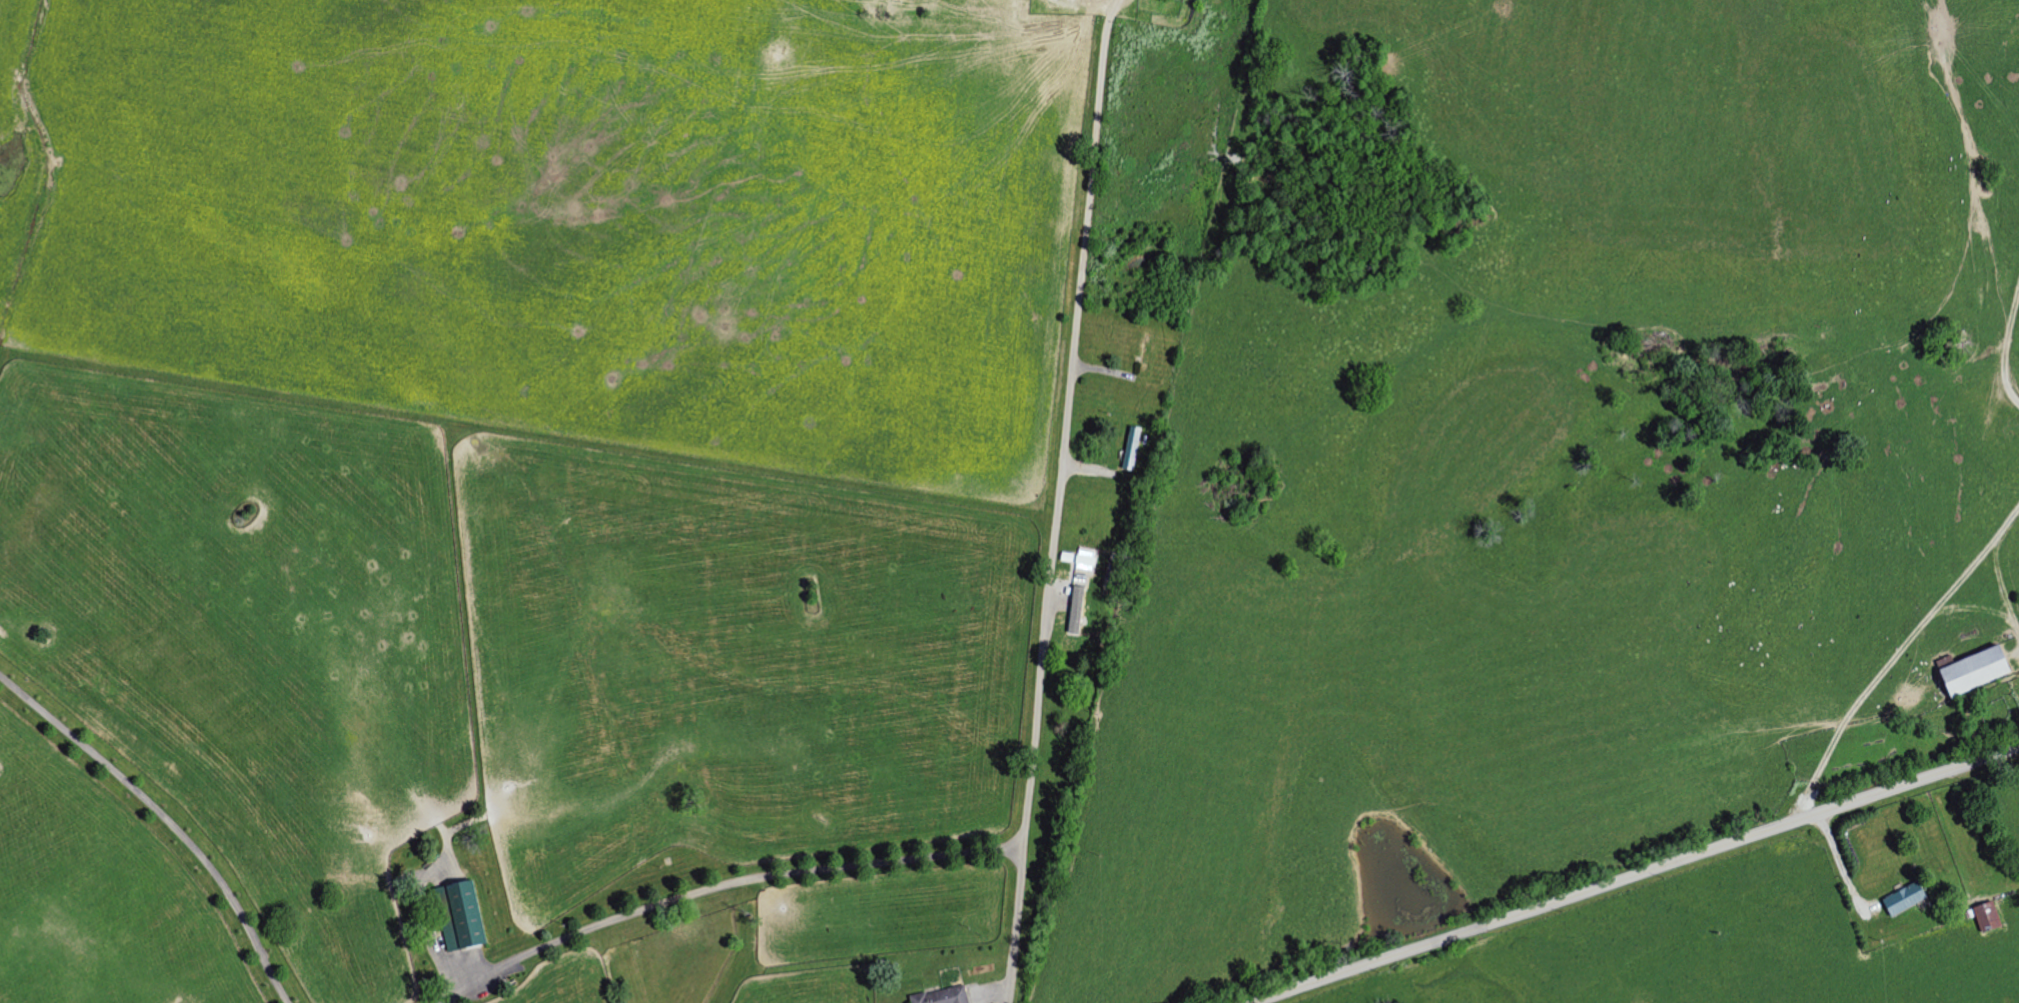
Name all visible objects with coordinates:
road: (2003, 344)
building: (1134, 447)
road: (1059, 500)
road: (1995, 567)
building: (1080, 609)
road: (1883, 669)
building: (1965, 671)
road: (167, 819)
road: (1832, 875)
road: (1640, 876)
road: (722, 884)
building: (1909, 897)
building: (1993, 916)
building: (469, 917)
road: (1320, 993)
building: (945, 996)

